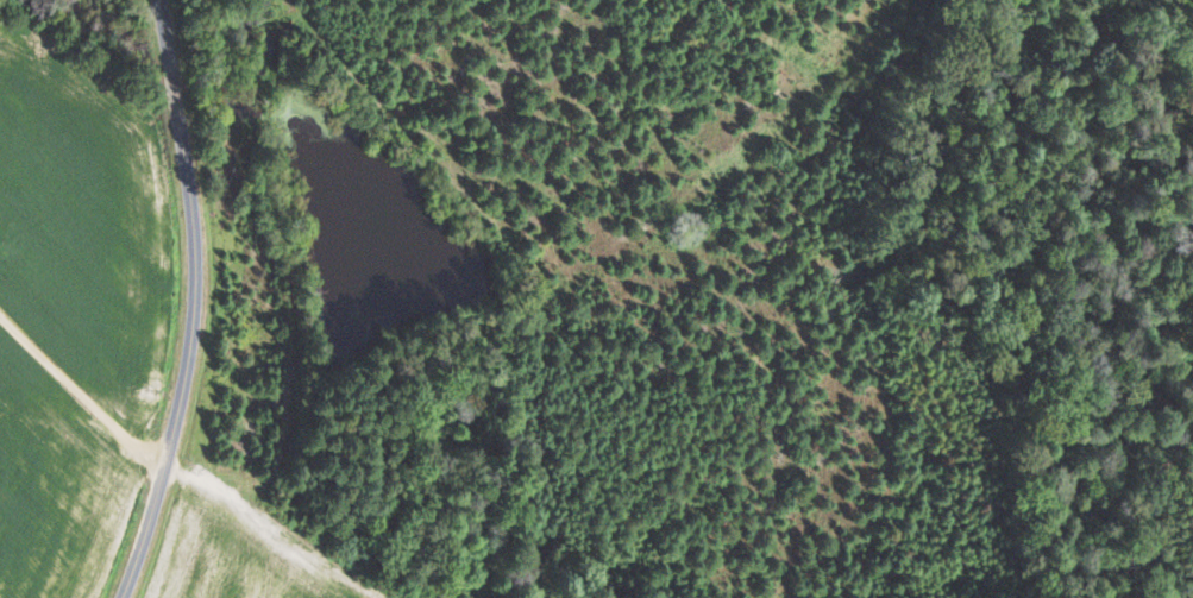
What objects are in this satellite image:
road: (190, 302)
road: (80, 394)

